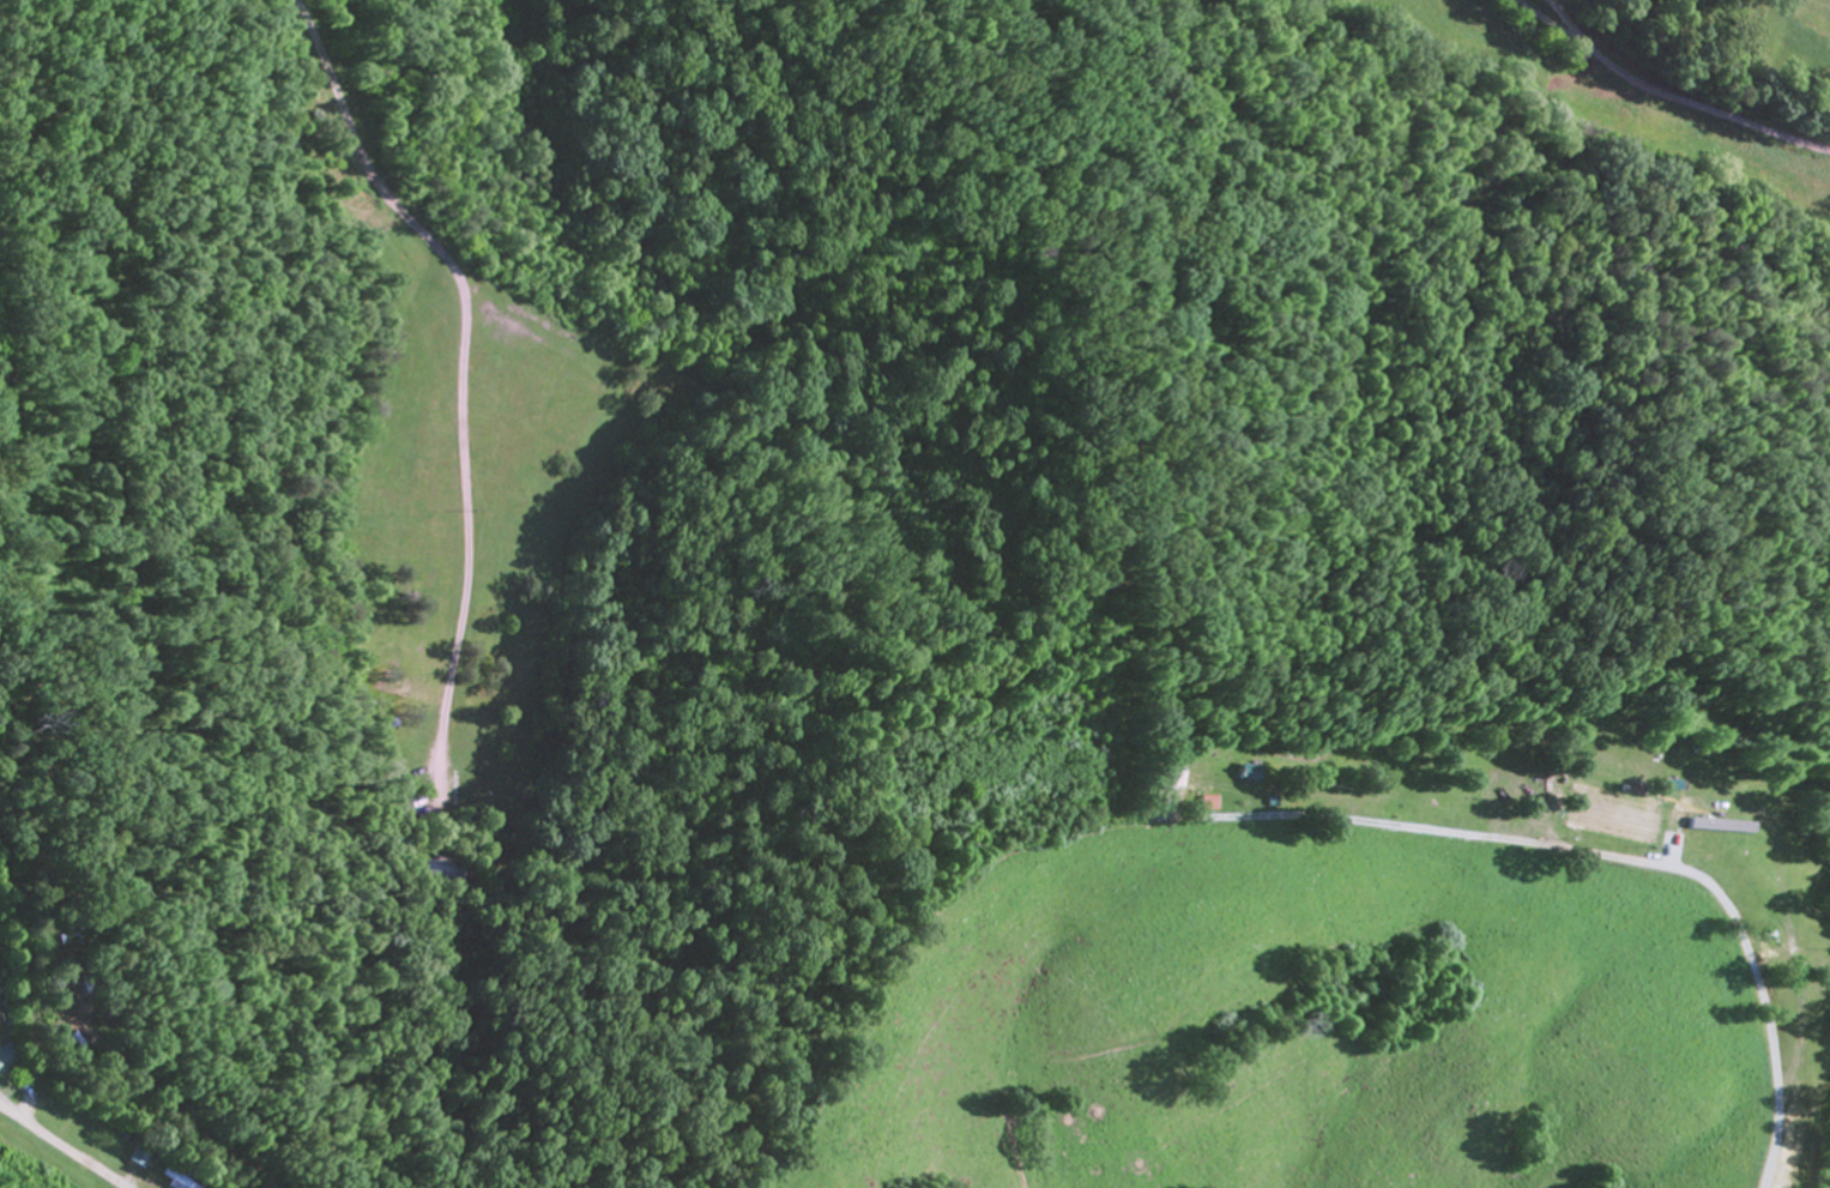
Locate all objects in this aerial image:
road: (1559, 17)
road: (1659, 96)
road: (902, 749)
building: (1242, 776)
road: (1300, 818)
building: (418, 872)
building: (1763, 886)
building: (8, 1062)
building: (122, 1138)

